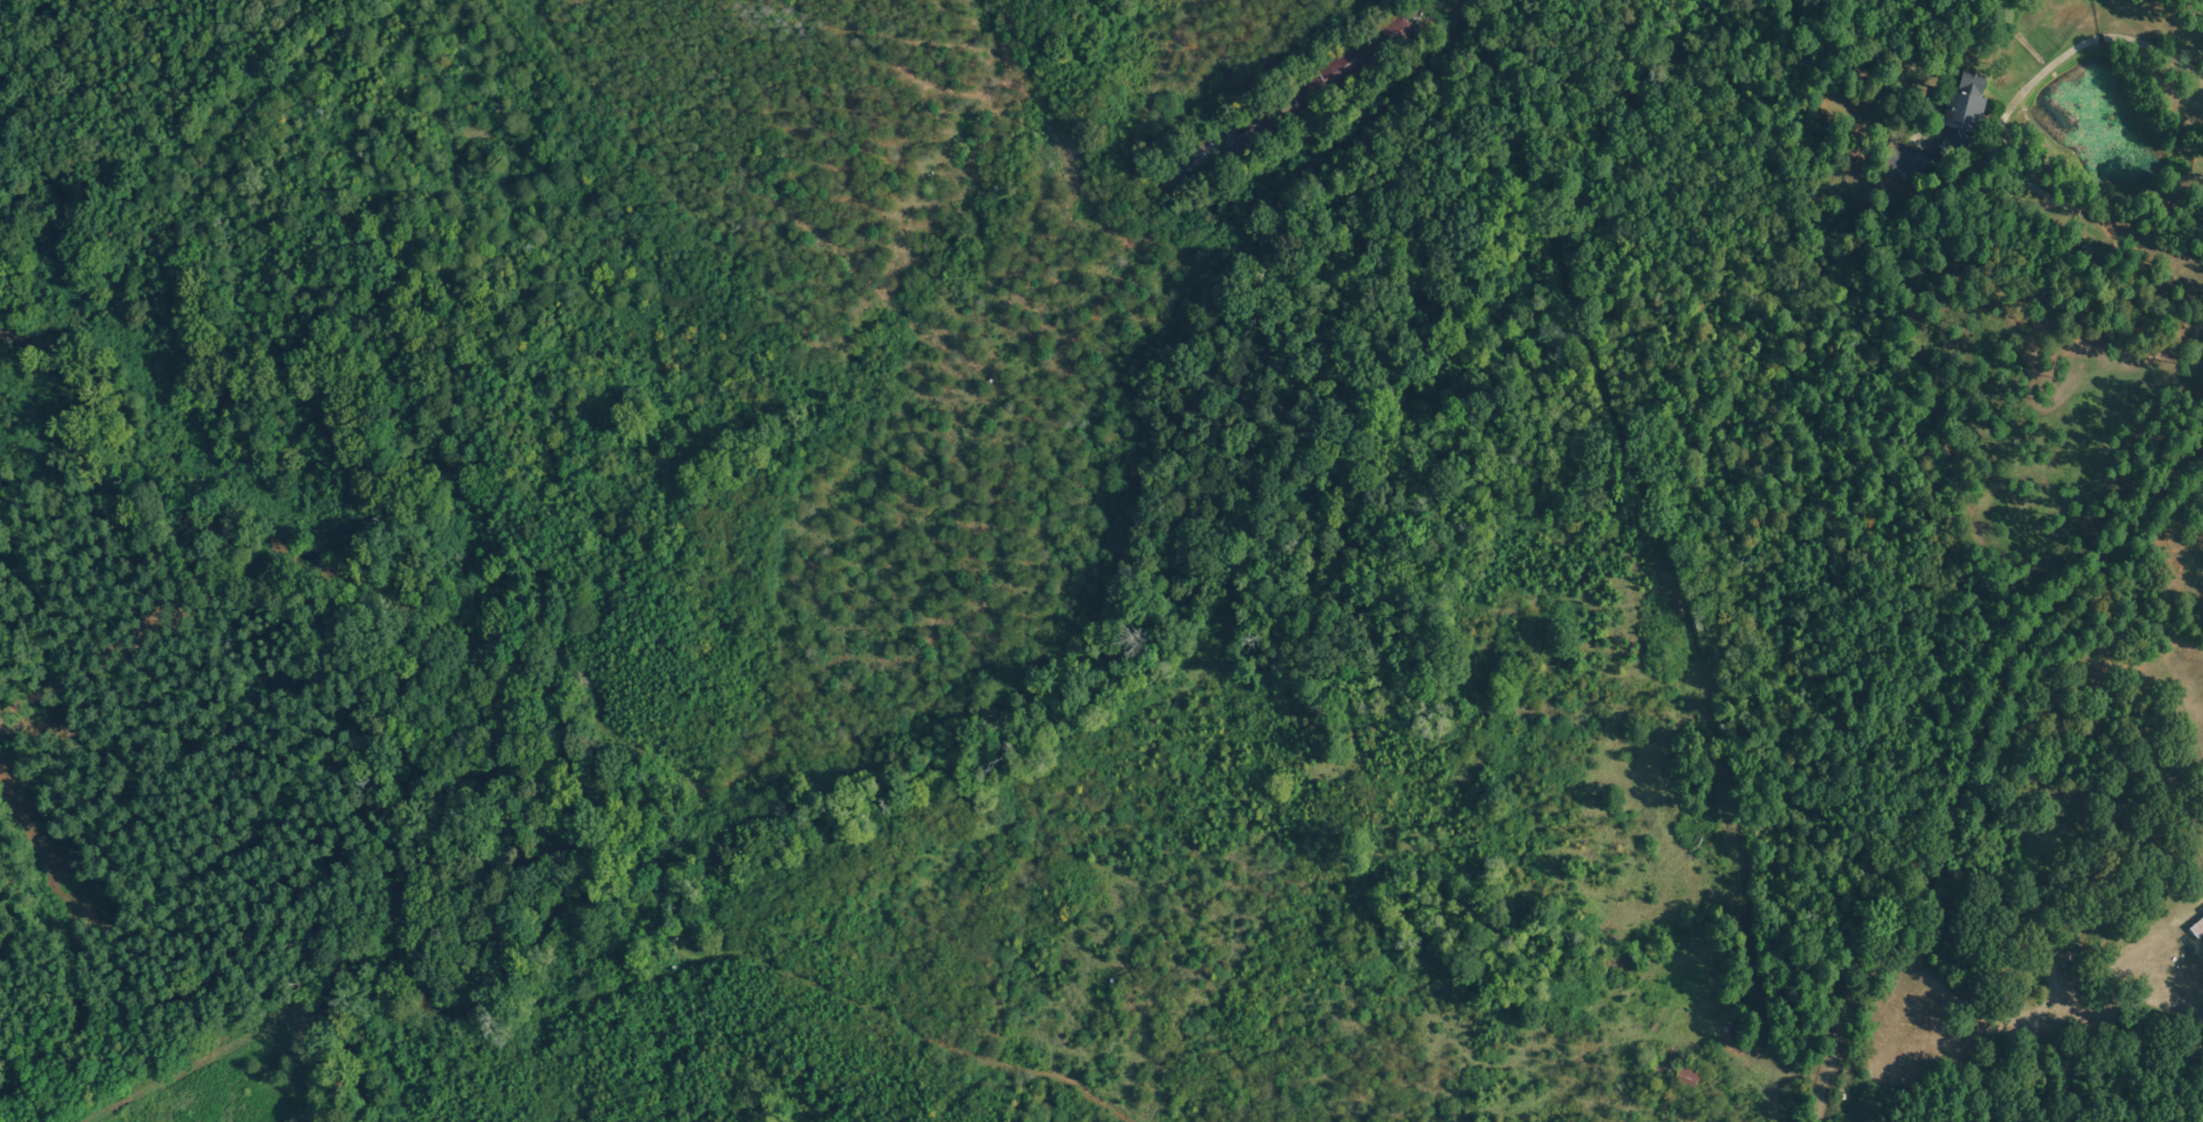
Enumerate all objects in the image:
building: (1968, 103)
building: (1899, 161)
road: (1961, 747)
building: (2198, 927)

